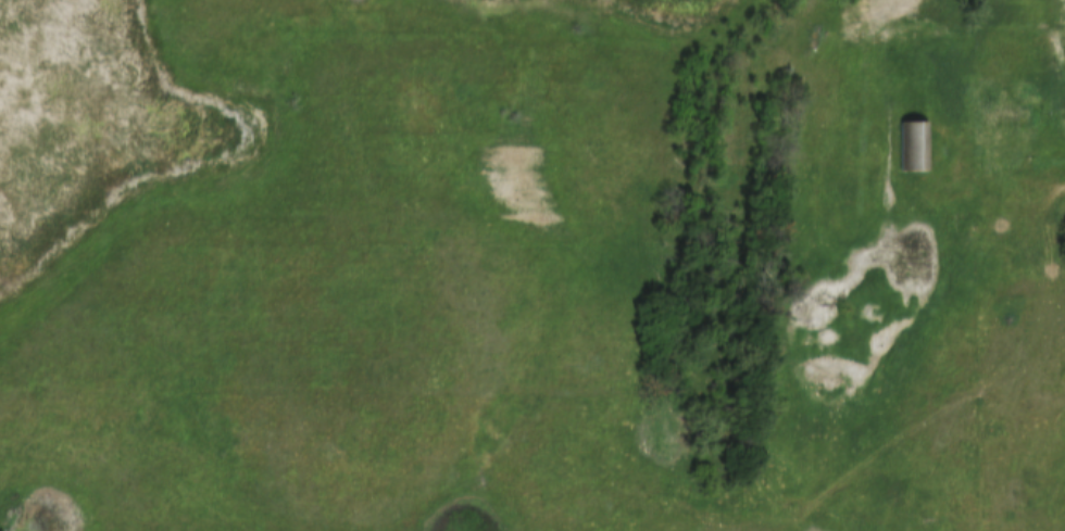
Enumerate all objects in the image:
building: (914, 146)

